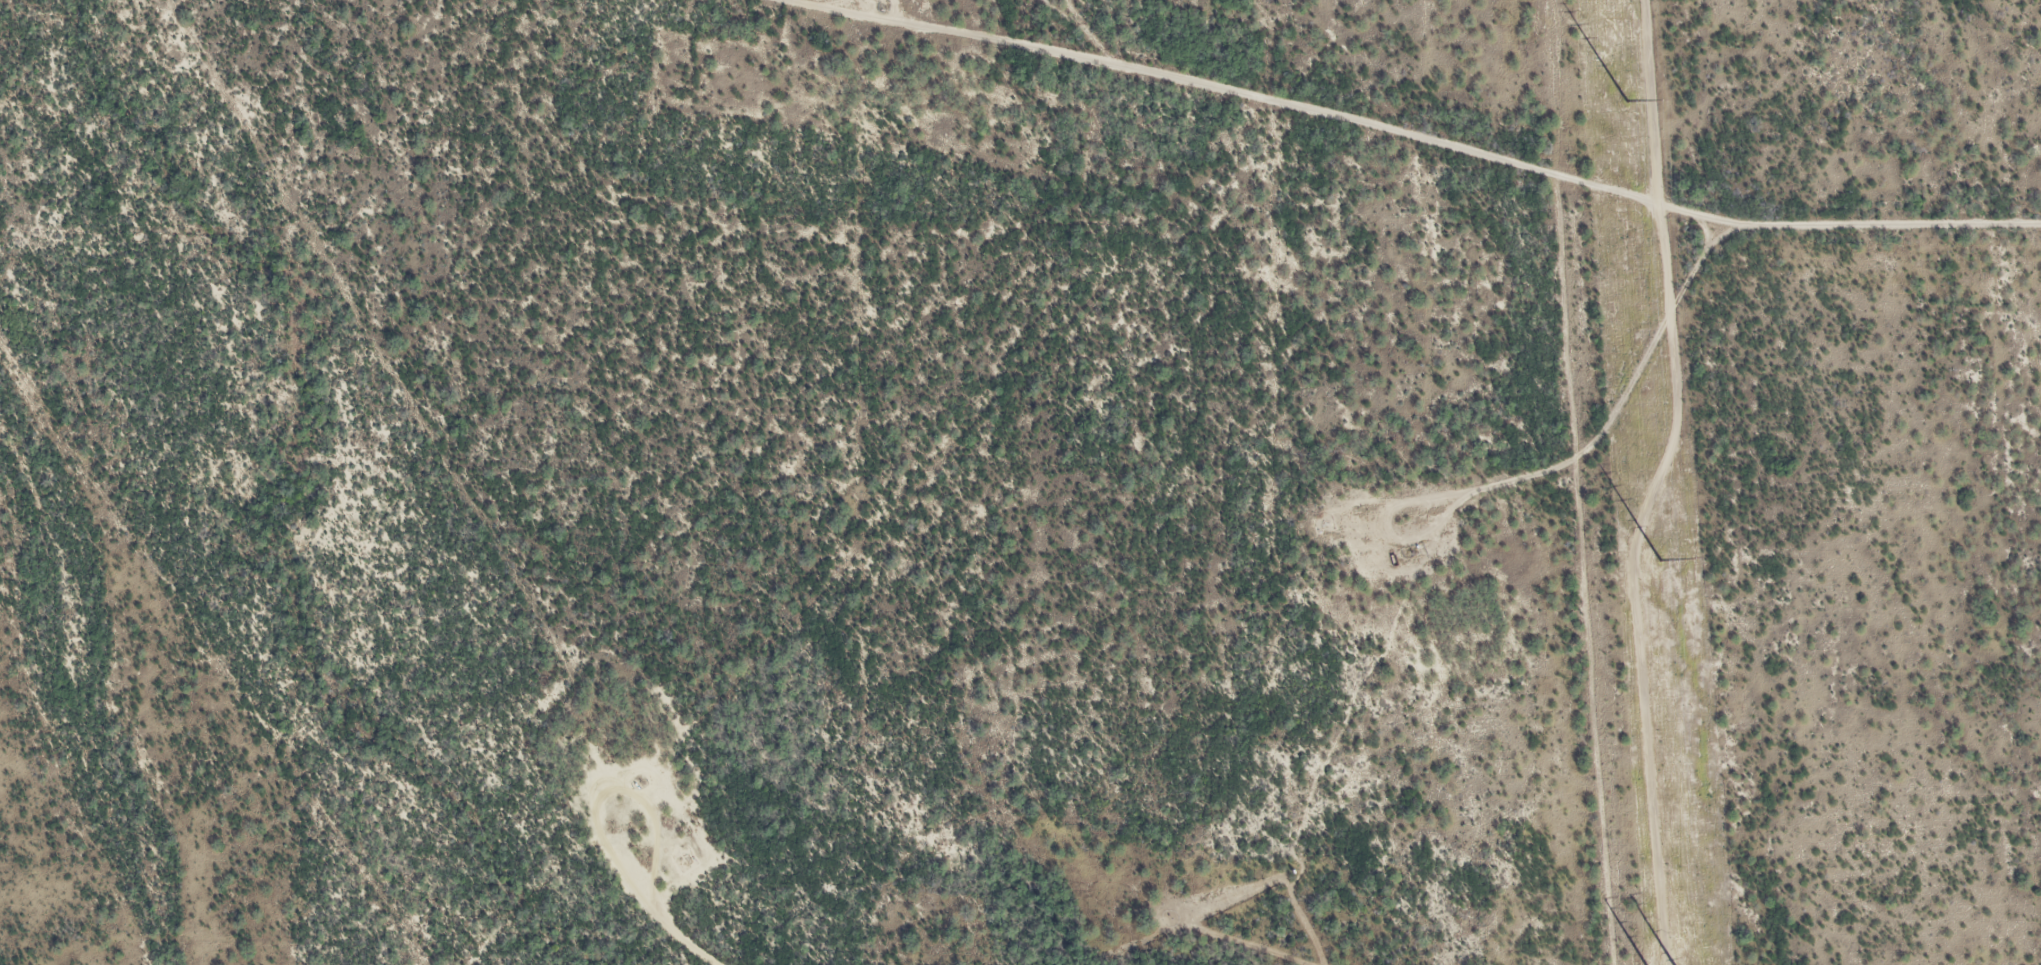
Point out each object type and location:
power tower: (1549, 22)
power tower: (1626, 102)
power tower: (1573, 367)
power tower: (1660, 560)
power tower: (1598, 714)

